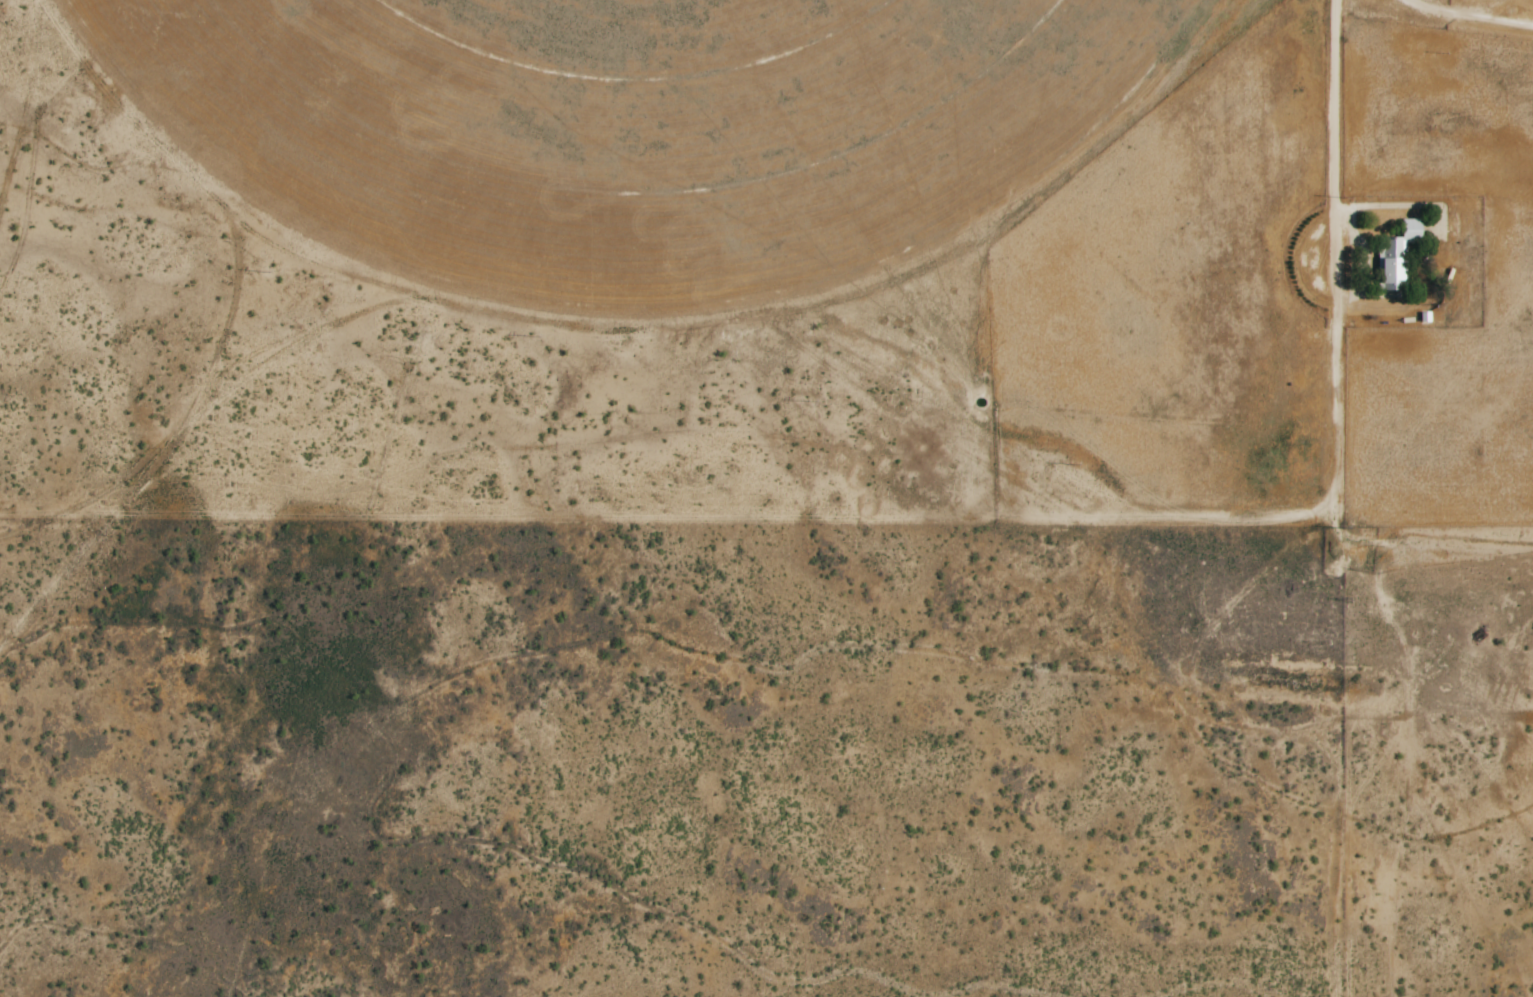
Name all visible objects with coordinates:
road: (1335, 187)
building: (1397, 256)

